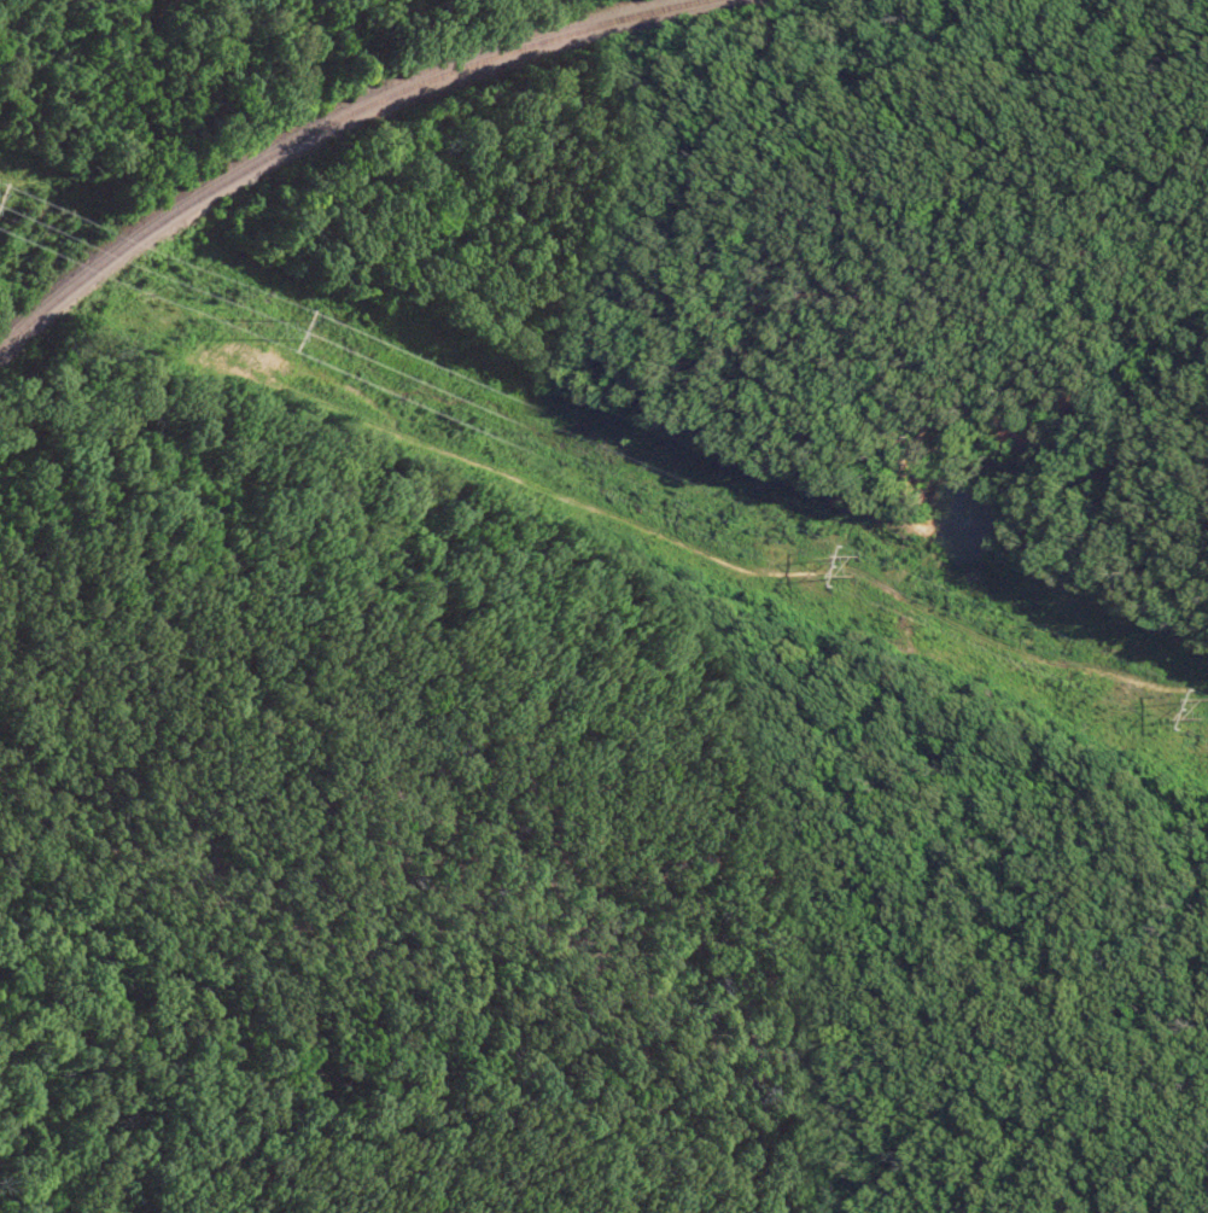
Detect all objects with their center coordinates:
railway: (337, 122)
power tower: (275, 333)
power tower: (852, 568)
power tower: (1206, 713)

